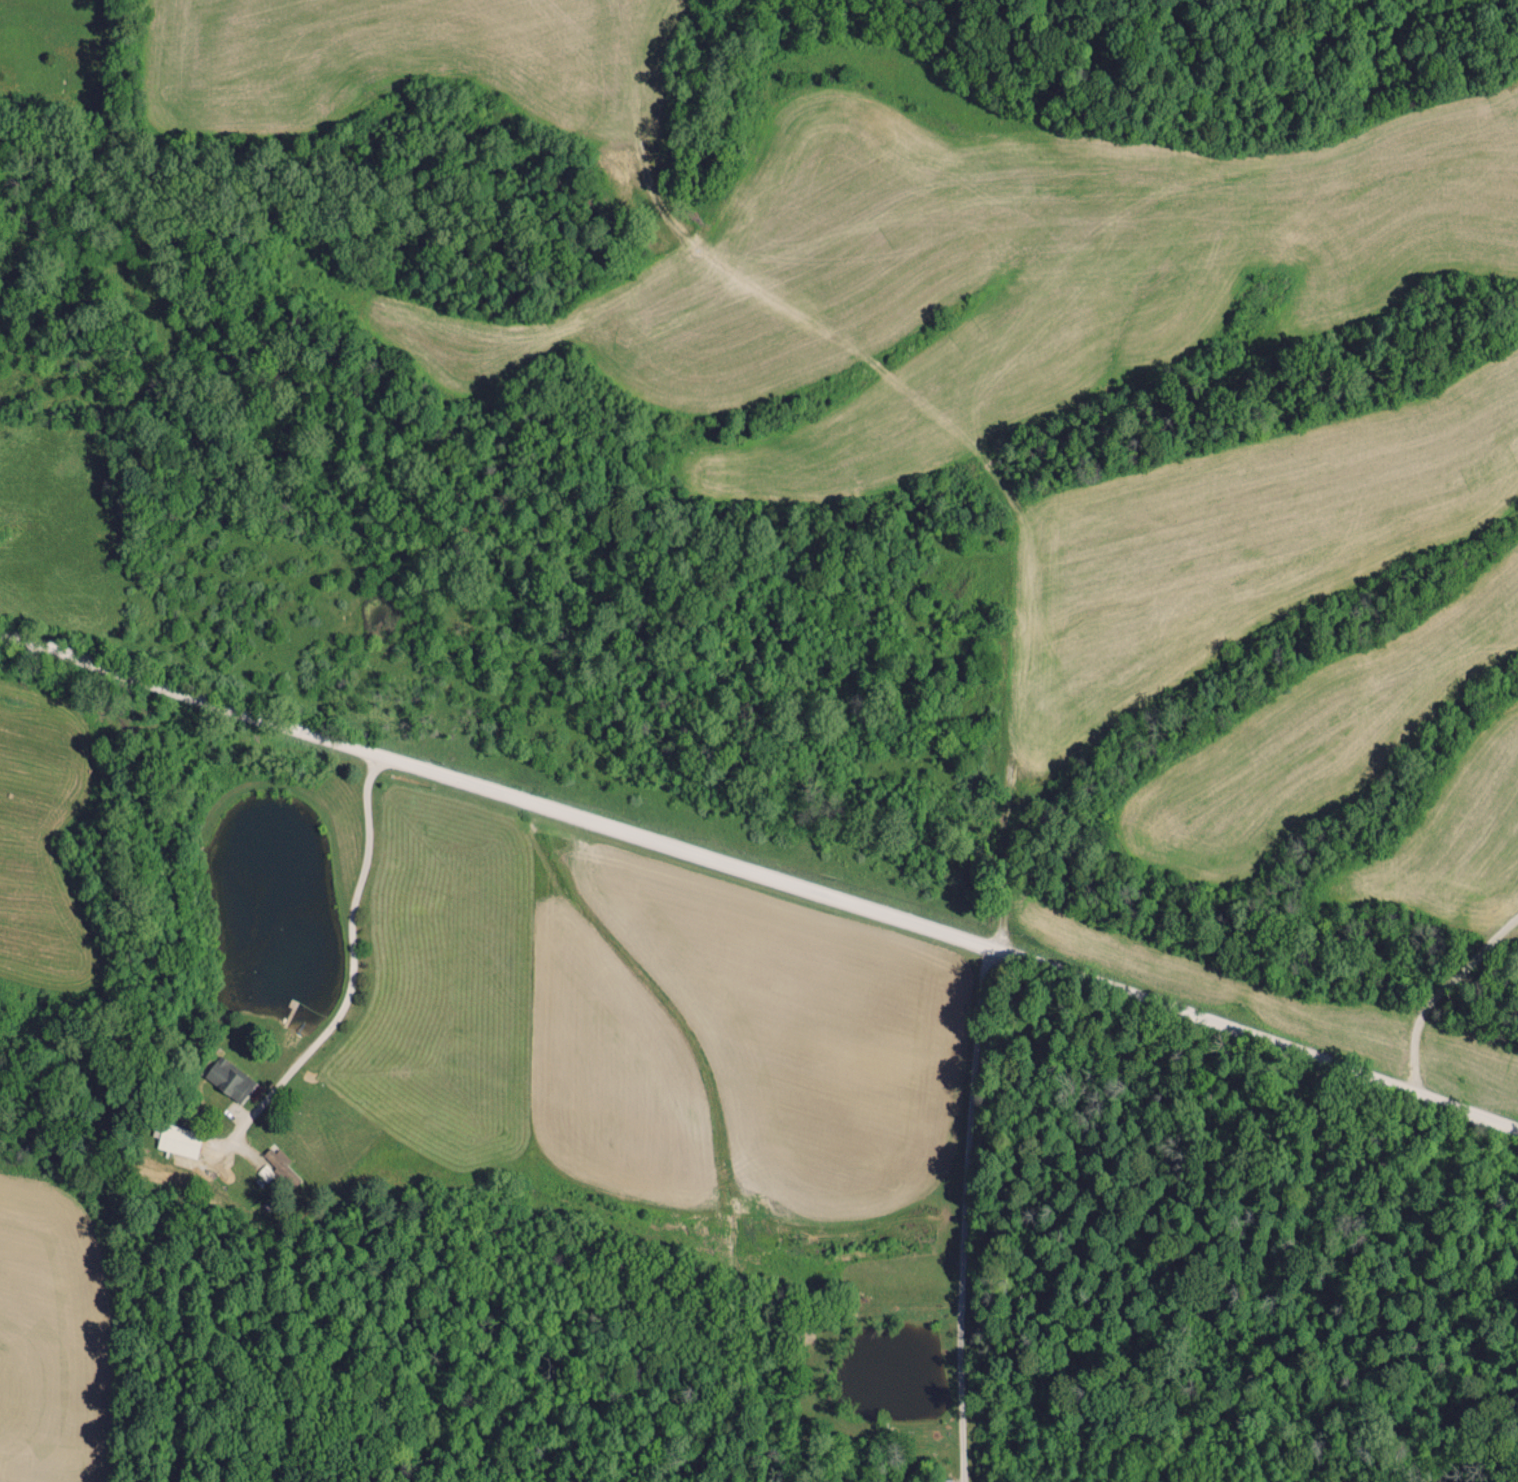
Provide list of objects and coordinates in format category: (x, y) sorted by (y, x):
road: (762, 875)
building: (230, 1080)

